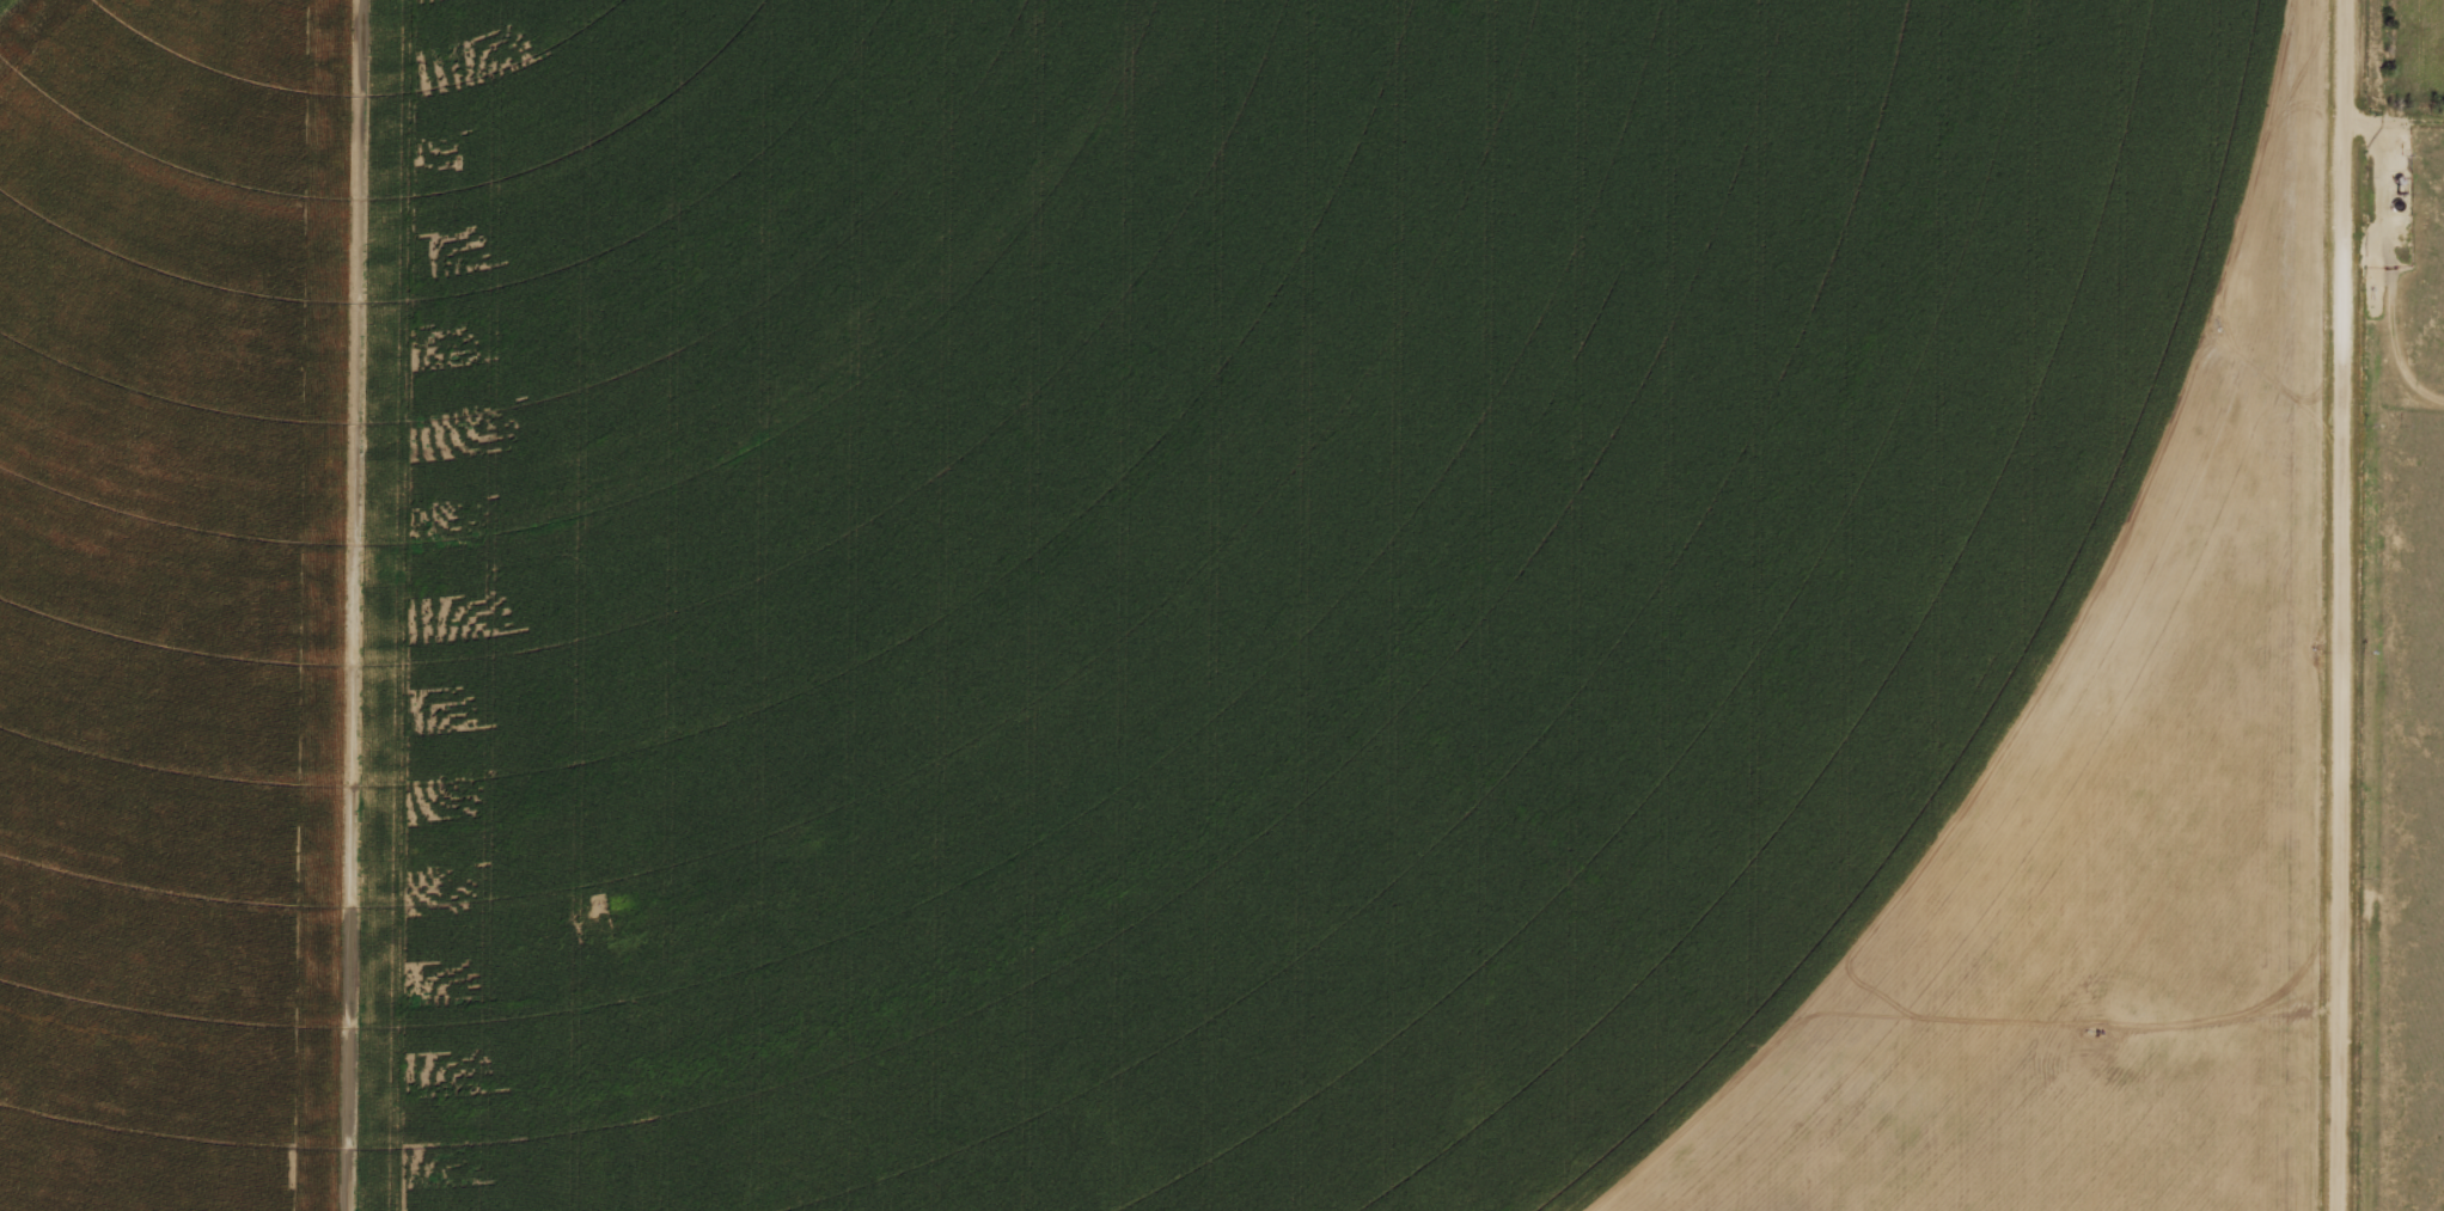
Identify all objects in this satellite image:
road: (2347, 605)

